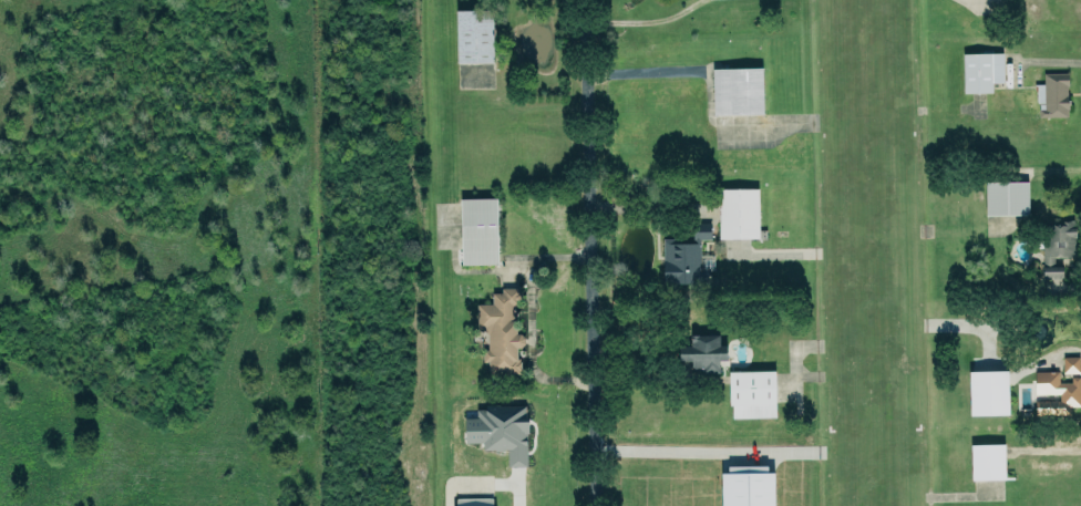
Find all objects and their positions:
road: (647, 20)
building: (474, 35)
building: (981, 71)
road: (642, 72)
building: (737, 90)
building: (1052, 94)
building: (1006, 197)
building: (738, 211)
building: (478, 230)
airport taxiway: (430, 244)
building: (1056, 246)
road: (593, 252)
airport runway: (864, 252)
building: (683, 256)
building: (706, 261)
building: (500, 331)
building: (702, 351)
building: (1070, 363)
building: (988, 391)
building: (1056, 392)
building: (752, 393)
building: (500, 431)
road: (1044, 447)
road: (668, 451)
building: (987, 461)
building: (747, 488)

